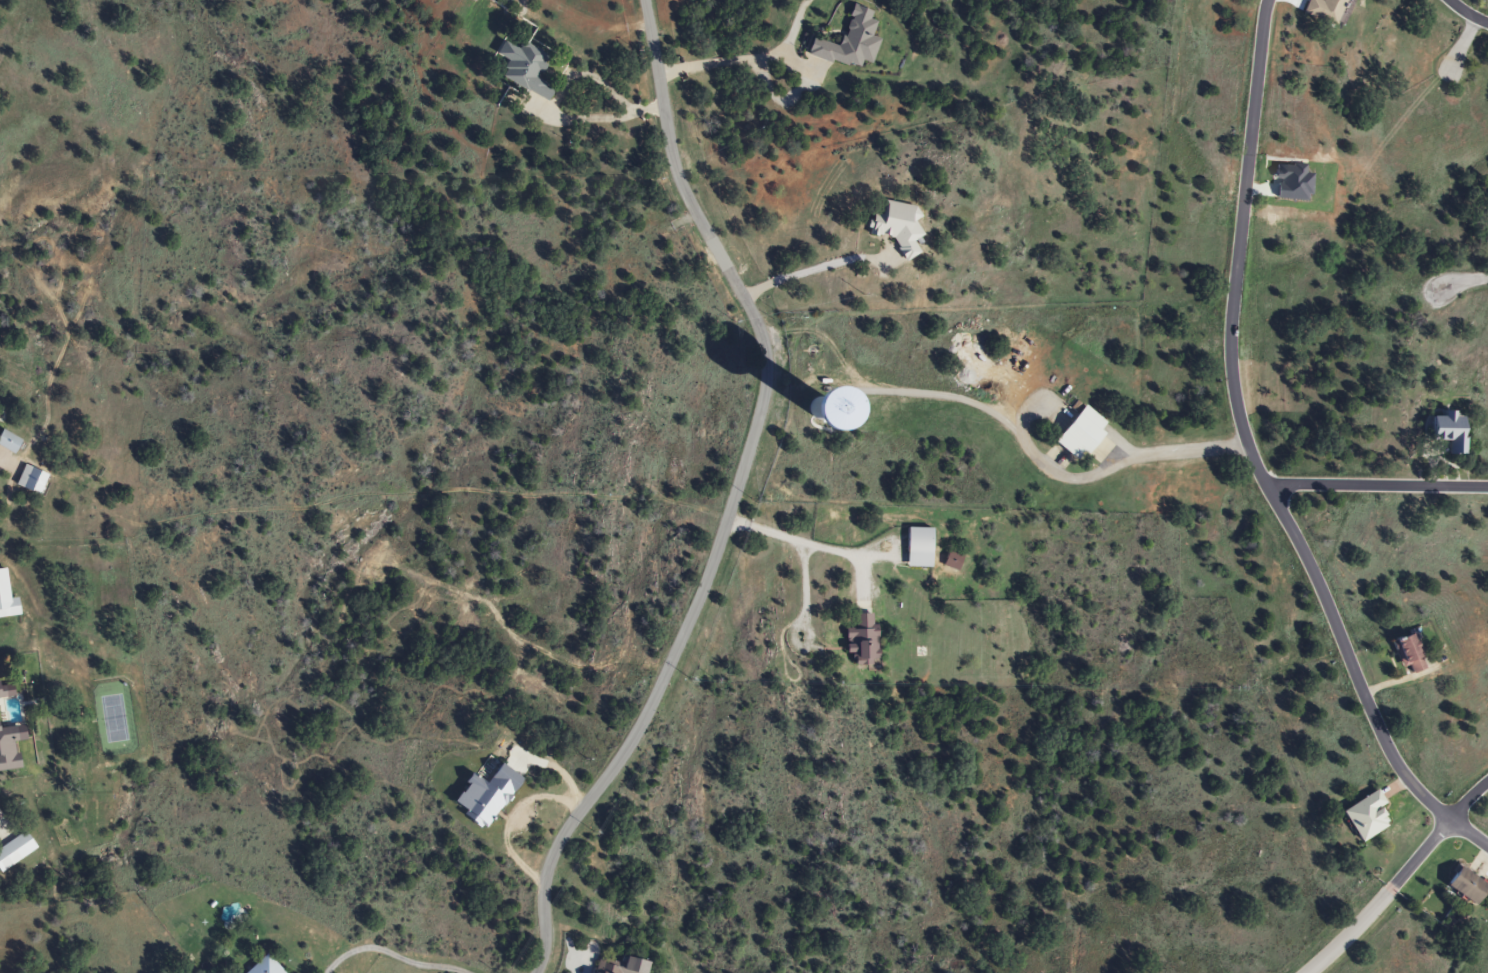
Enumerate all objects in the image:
building: (1324, 11)
road: (1467, 13)
building: (847, 43)
road: (1462, 43)
building: (524, 70)
building: (894, 228)
road: (1463, 282)
building: (790, 402)
water tower: (823, 408)
building: (1445, 430)
building: (1076, 433)
building: (7, 442)
road: (1252, 458)
building: (28, 480)
road: (1378, 485)
road: (734, 496)
building: (916, 547)
building: (6, 600)
building: (858, 639)
building: (1406, 654)
building: (1, 689)
building: (7, 749)
building: (1364, 816)
building: (14, 849)
road: (1223, 852)
road: (1401, 878)
building: (1462, 885)
park: (1199, 905)
building: (262, 966)
building: (606, 967)
building: (588, 972)

